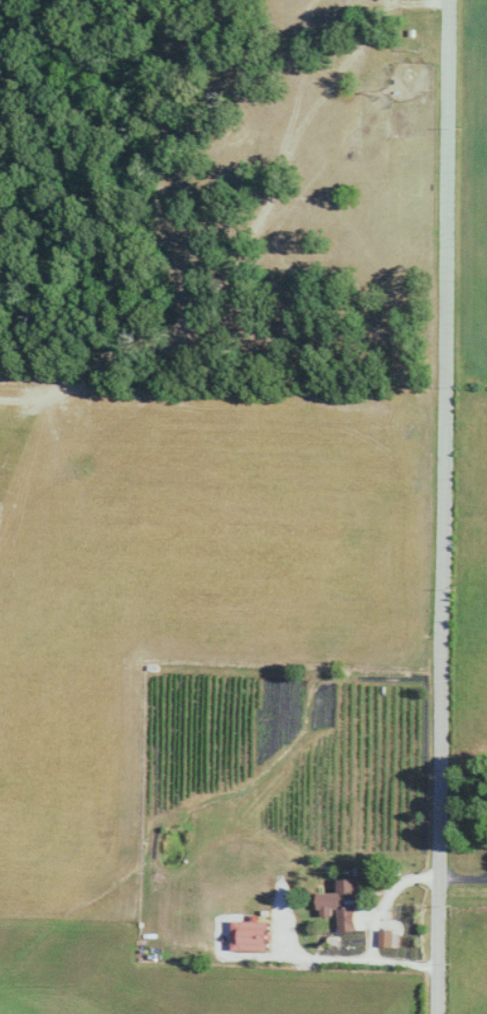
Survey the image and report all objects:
road: (445, 507)
building: (349, 904)
building: (387, 937)

